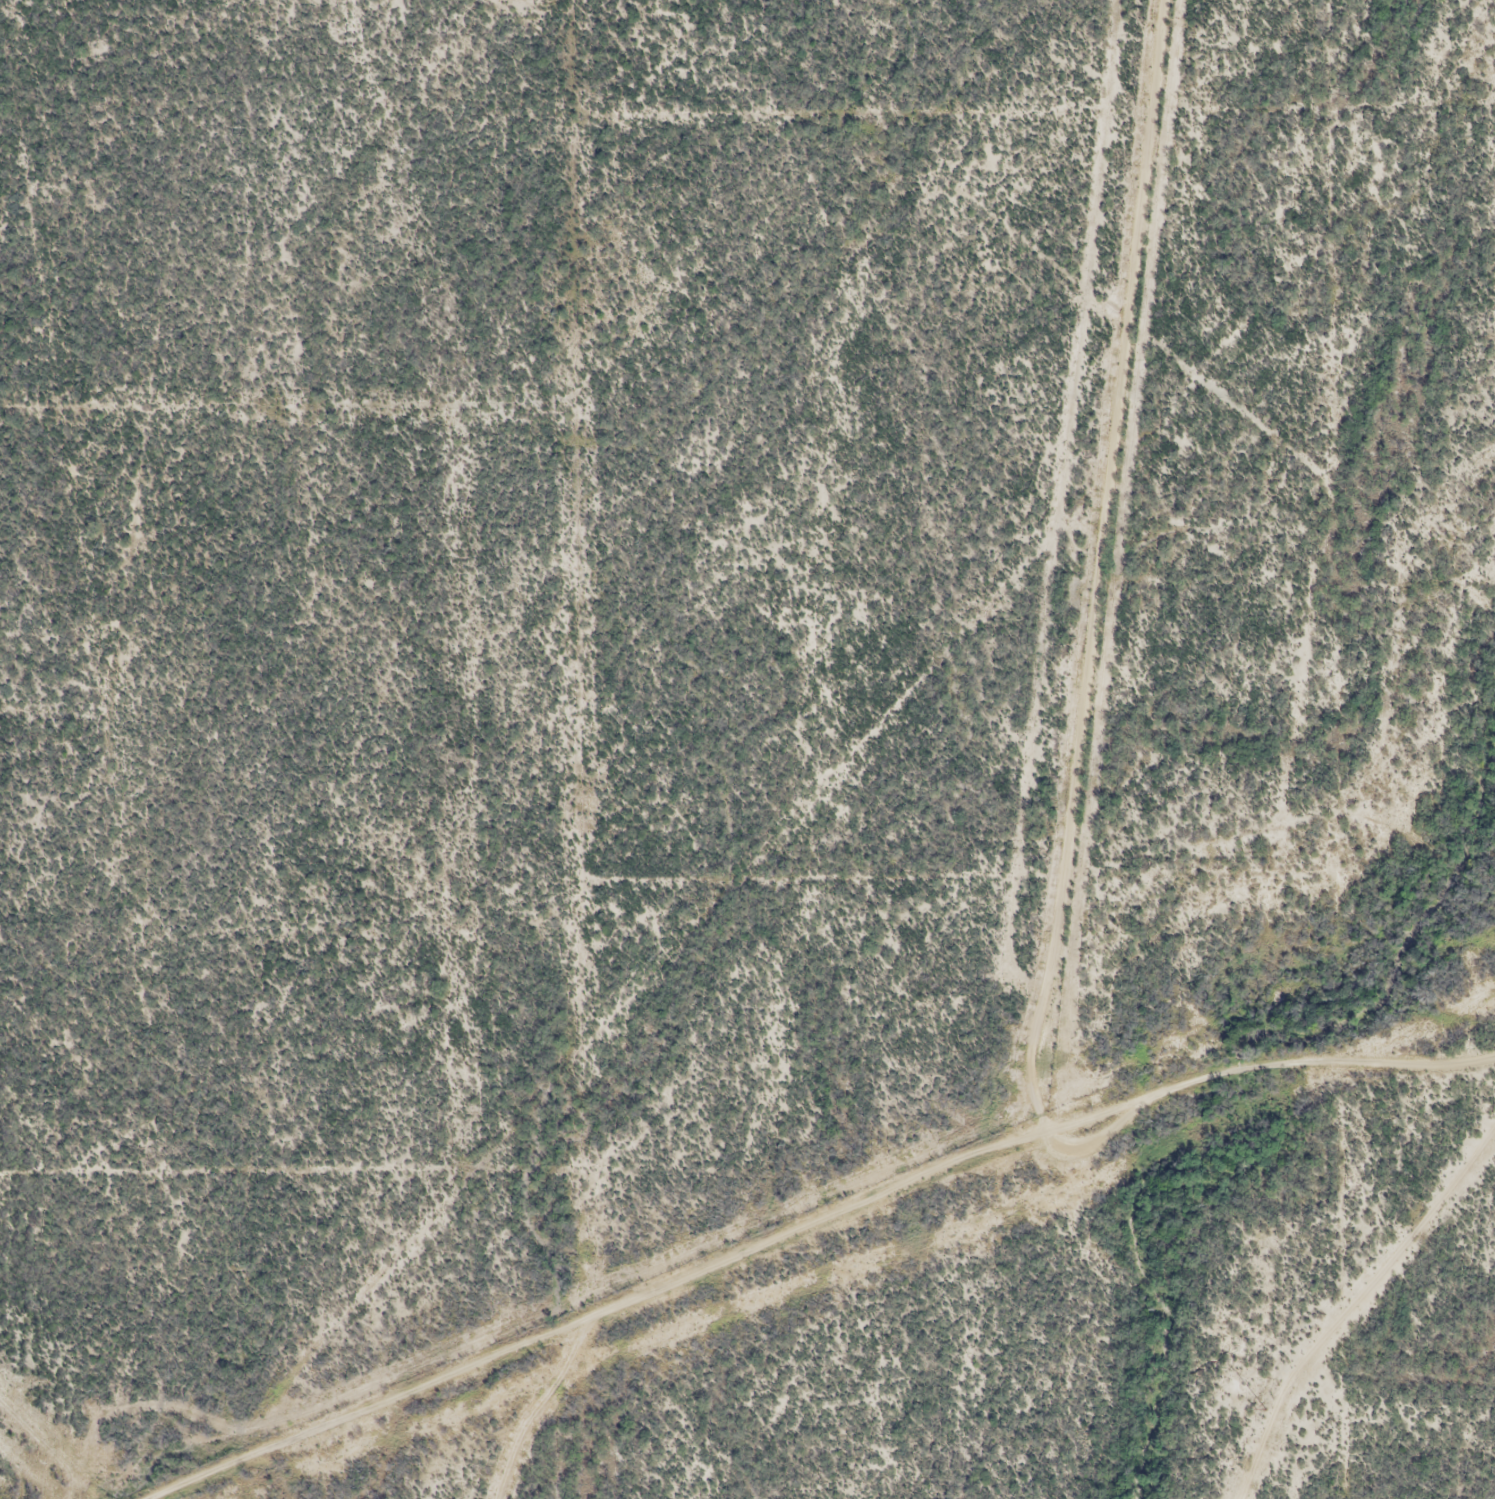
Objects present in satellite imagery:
power tower: (1264, 1410)

